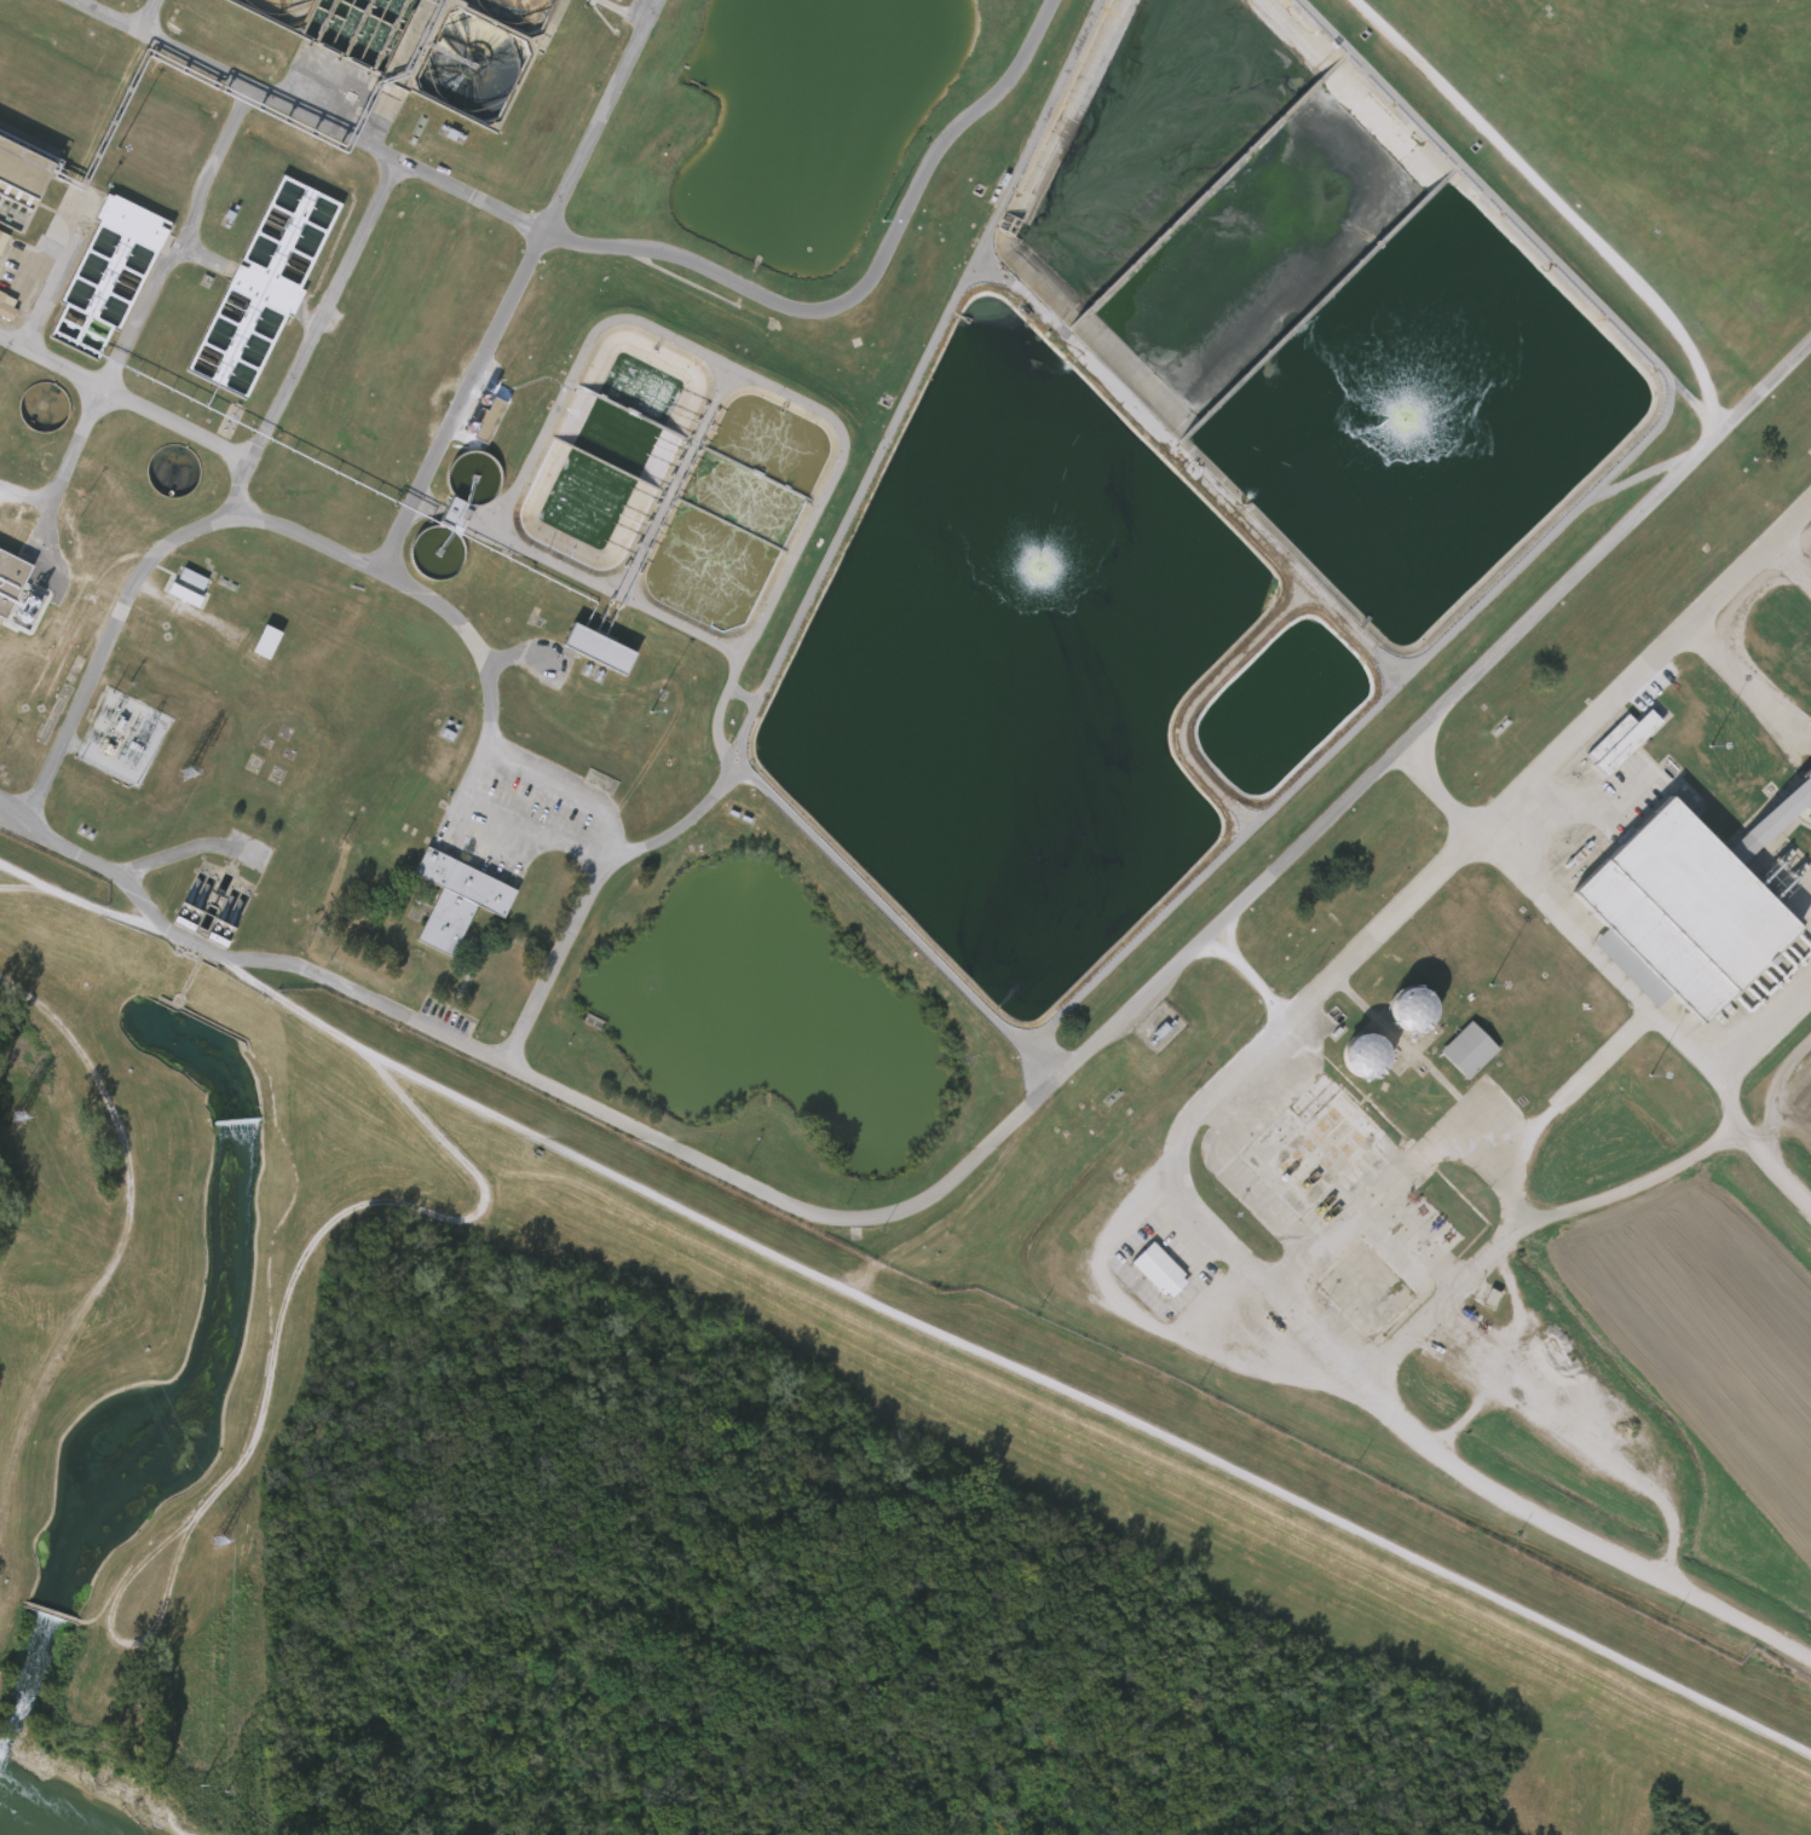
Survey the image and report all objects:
building: (618, 0)
road: (144, 15)
building: (429, 44)
building: (23, 180)
building: (2, 241)
road: (628, 248)
building: (108, 276)
road: (1573, 282)
building: (264, 288)
road: (34, 292)
building: (6, 308)
road: (662, 335)
building: (473, 420)
building: (494, 420)
road: (266, 444)
road: (871, 461)
road: (65, 468)
building: (437, 510)
building: (455, 513)
building: (12, 569)
road: (392, 576)
building: (178, 578)
building: (169, 594)
building: (252, 641)
building: (271, 642)
building: (588, 650)
road: (99, 659)
wastewater plant: (999, 717)
road: (1440, 727)
building: (1605, 740)
building: (1621, 745)
road: (1285, 791)
road: (1441, 798)
road: (16, 803)
road: (15, 807)
road: (1478, 835)
building: (461, 896)
road: (877, 902)
building: (1696, 925)
building: (1396, 1008)
building: (1453, 1049)
building: (1348, 1055)
road: (420, 1084)
road: (650, 1136)
building: (1351, 1177)
building: (1144, 1269)
building: (1160, 1270)
road: (1390, 1362)
road: (1330, 1527)
river: (38, 1810)

